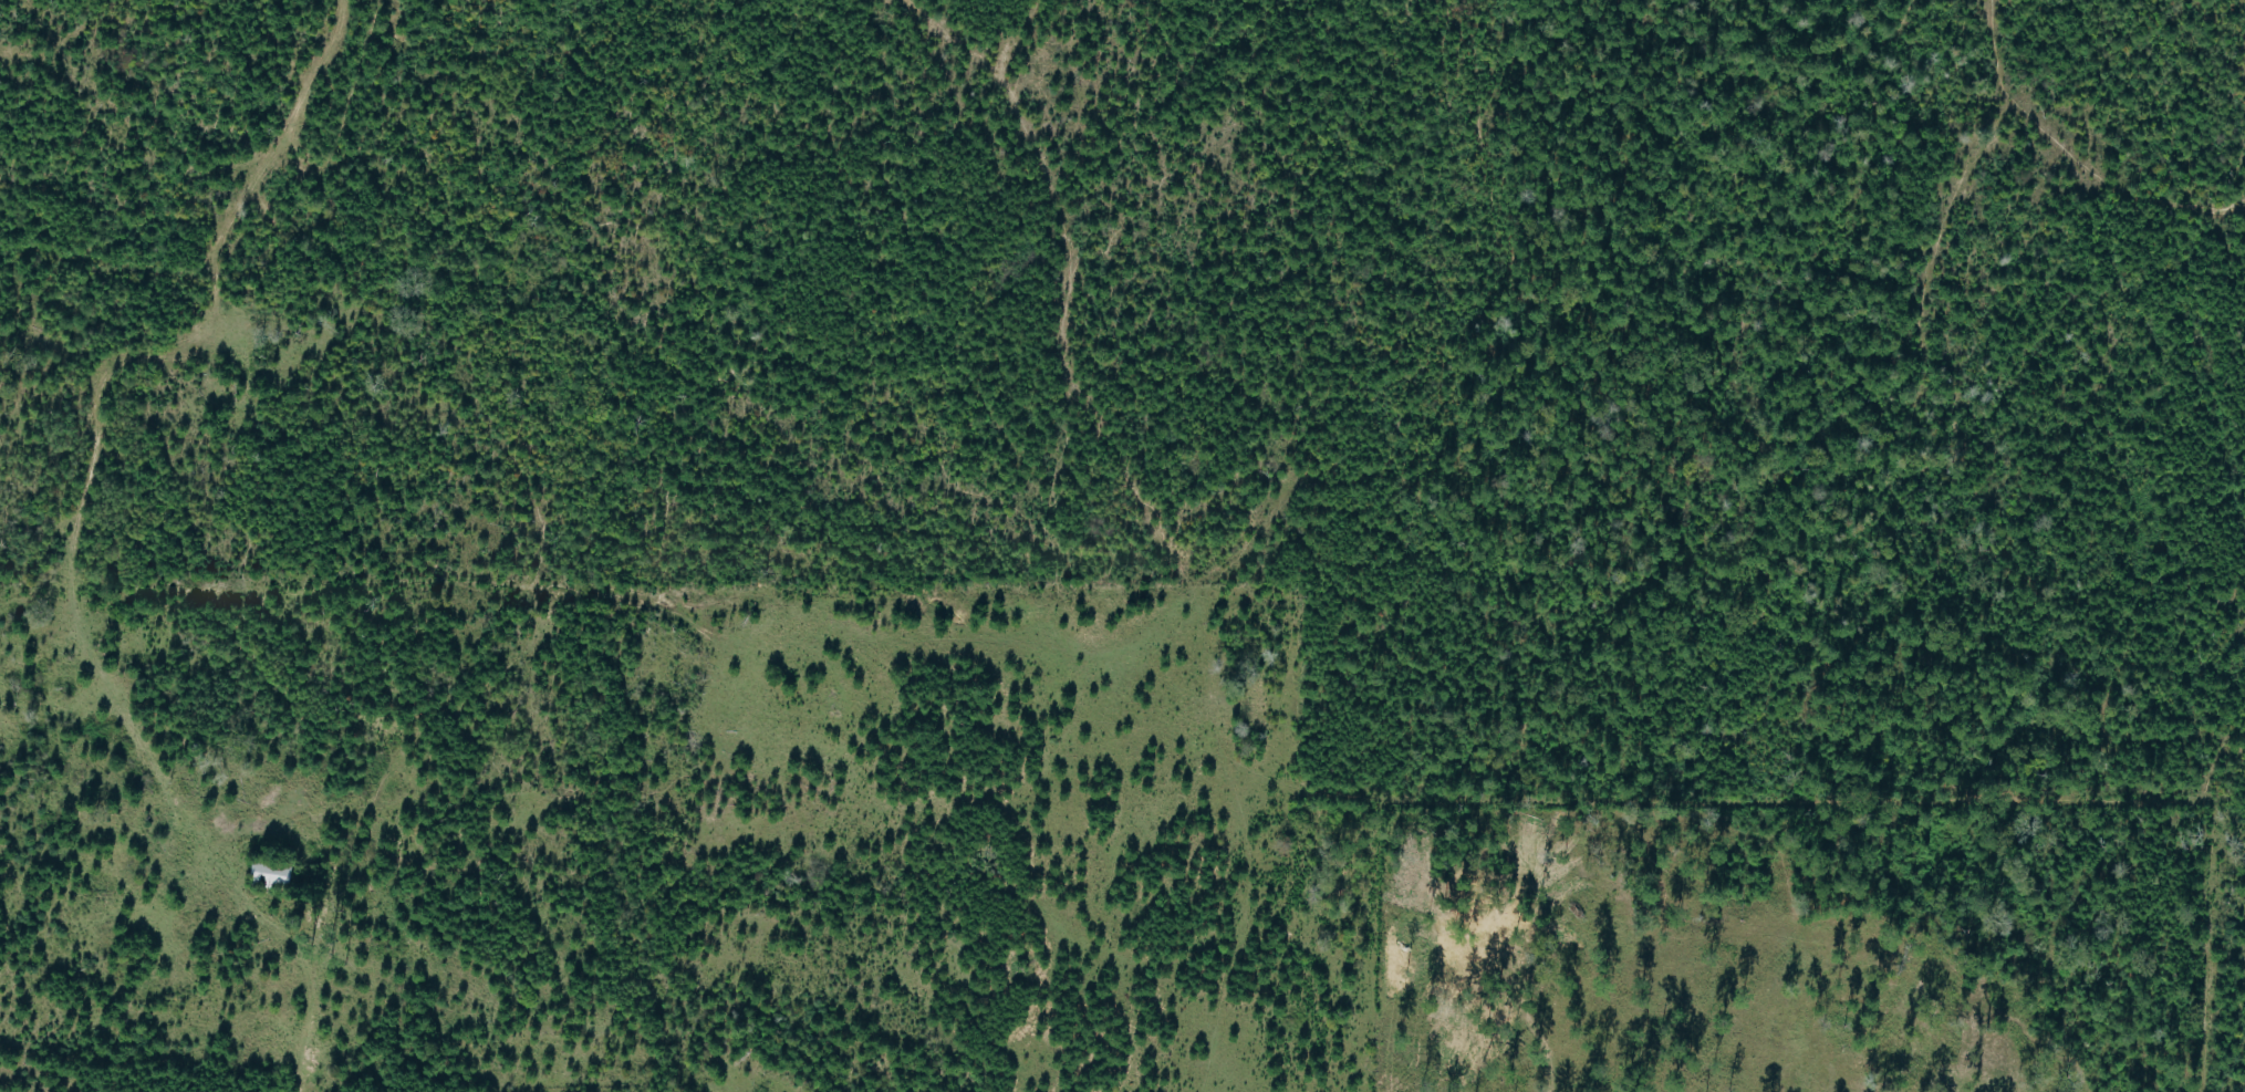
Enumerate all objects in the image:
building: (269, 874)
road: (2138, 894)

